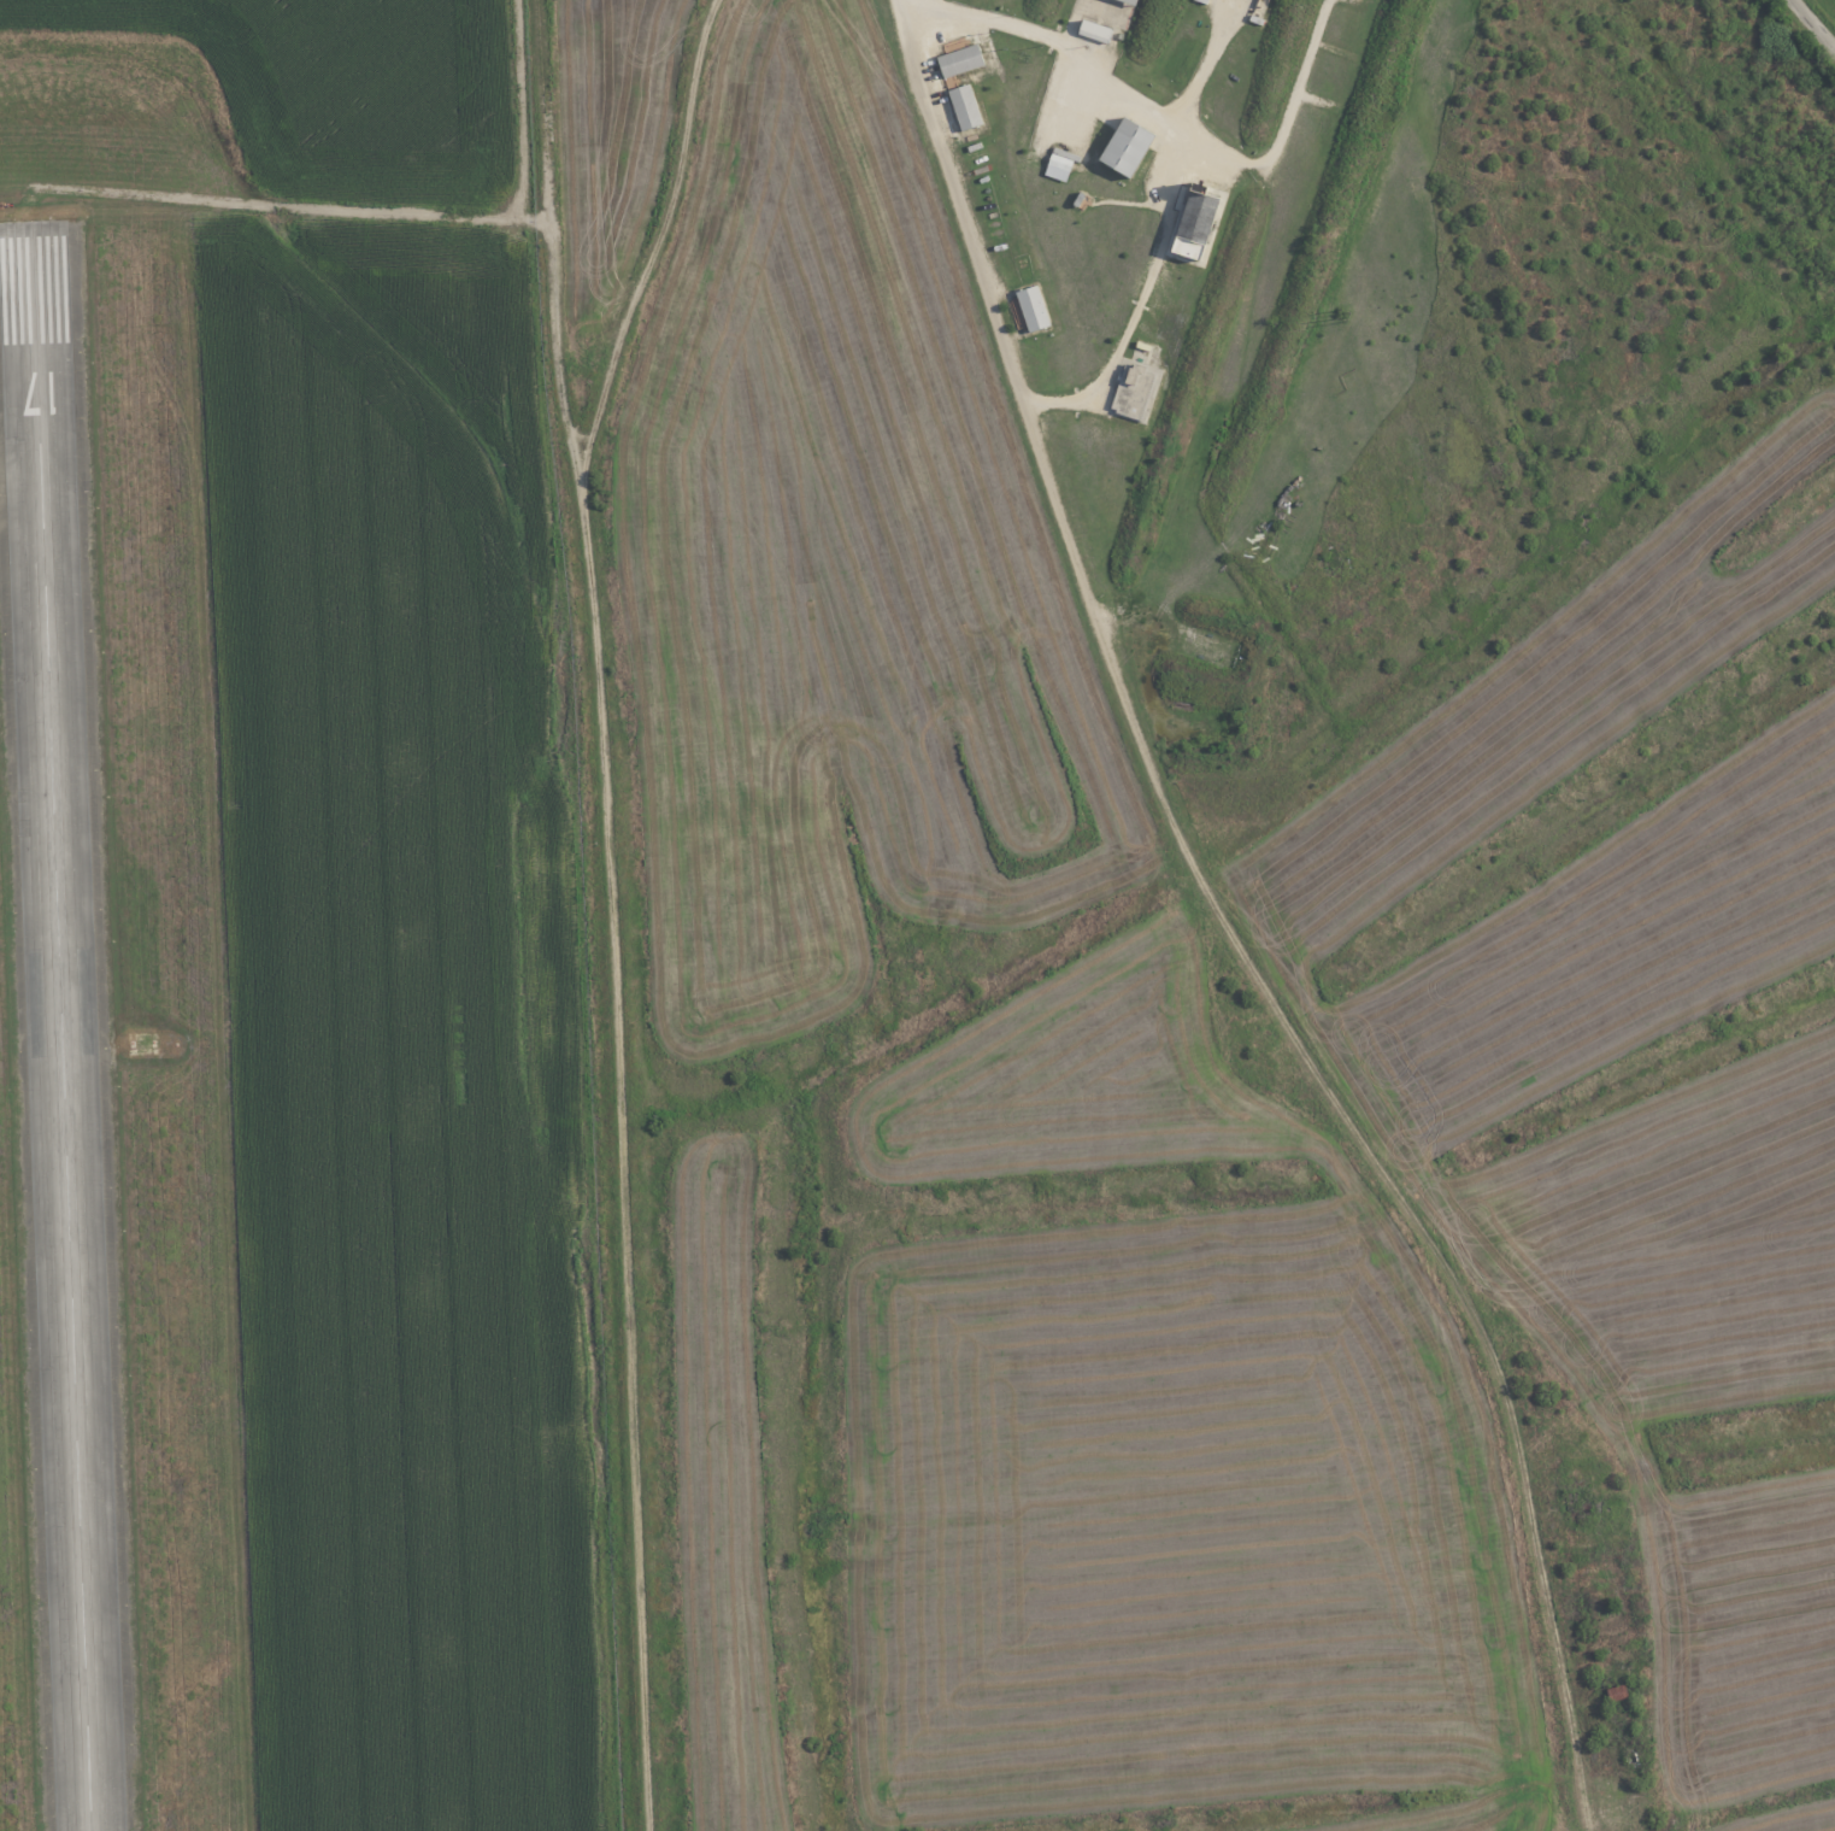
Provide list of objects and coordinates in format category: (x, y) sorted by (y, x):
building: (1134, 1)
road: (906, 6)
road: (1812, 24)
building: (1098, 30)
building: (963, 60)
building: (966, 106)
building: (1131, 146)
road: (1177, 162)
building: (1063, 164)
road: (547, 233)
road: (655, 243)
building: (1035, 307)
airport taxiway: (27, 313)
road: (1230, 927)
airport: (288, 940)
airport runway: (61, 1033)
road: (621, 1156)

